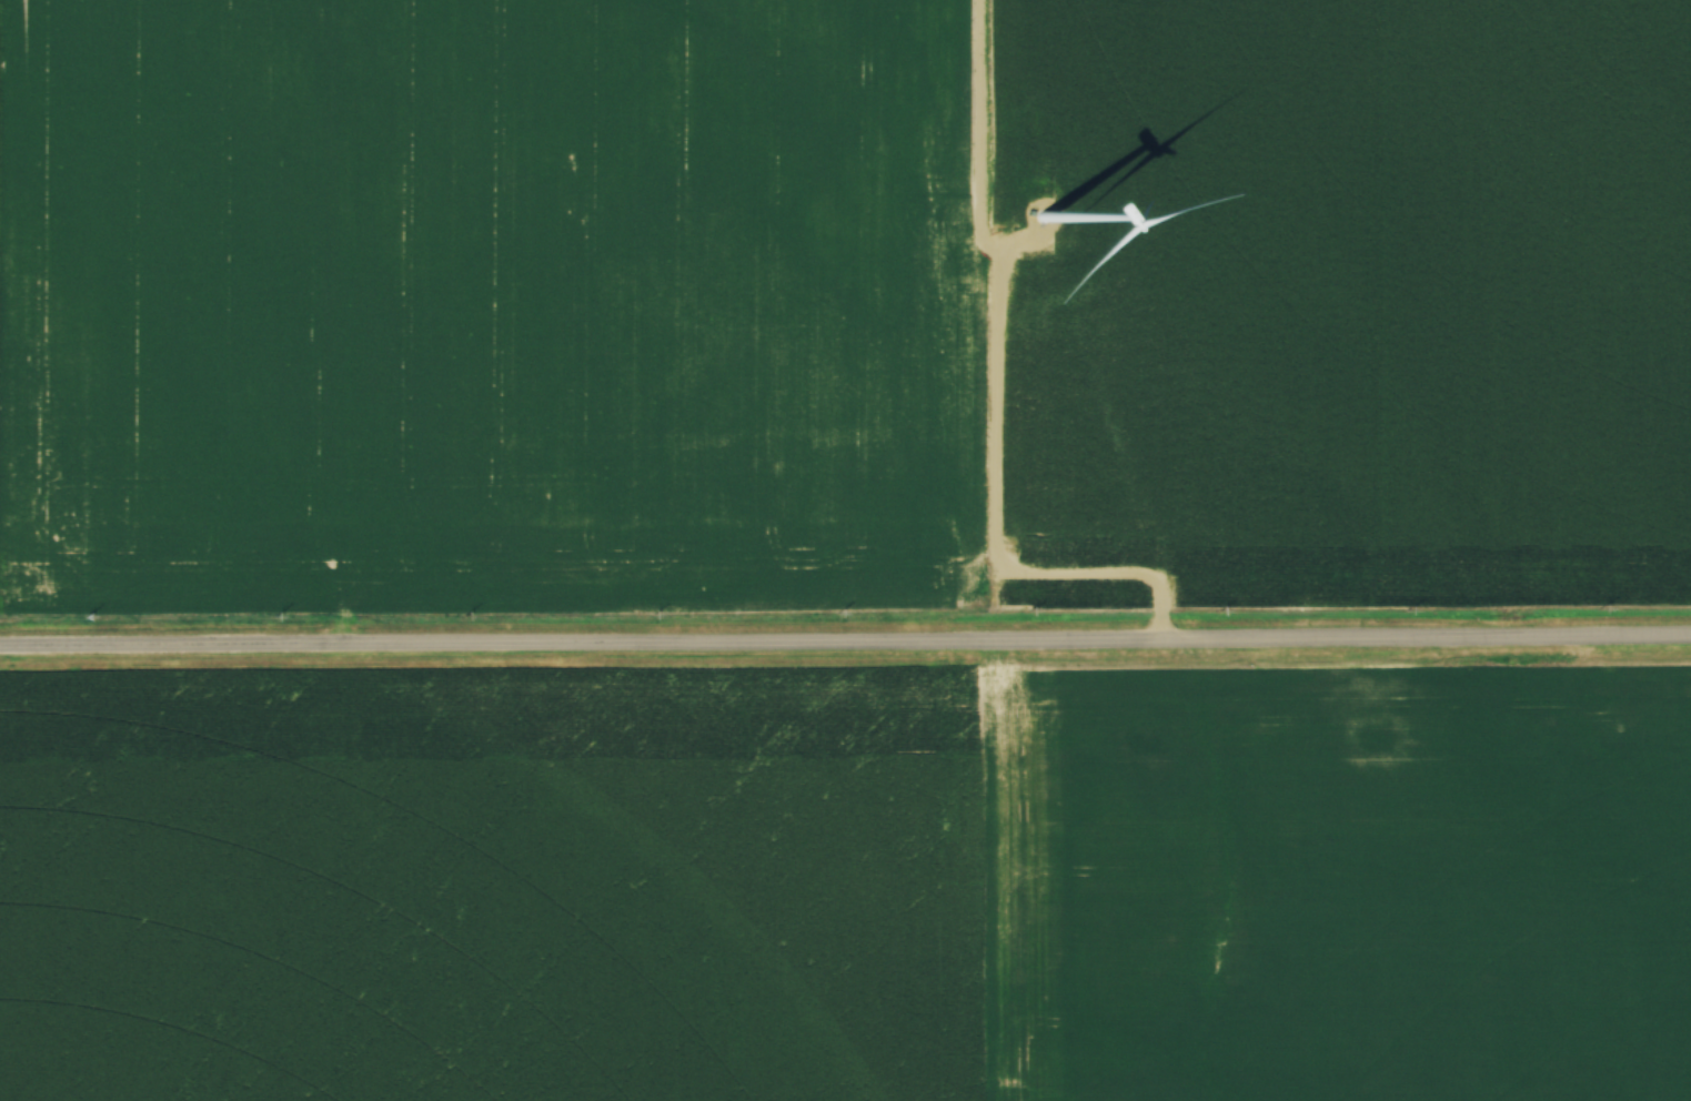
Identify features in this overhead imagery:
wind turbine: (1041, 216)
road: (992, 408)
road: (845, 649)

